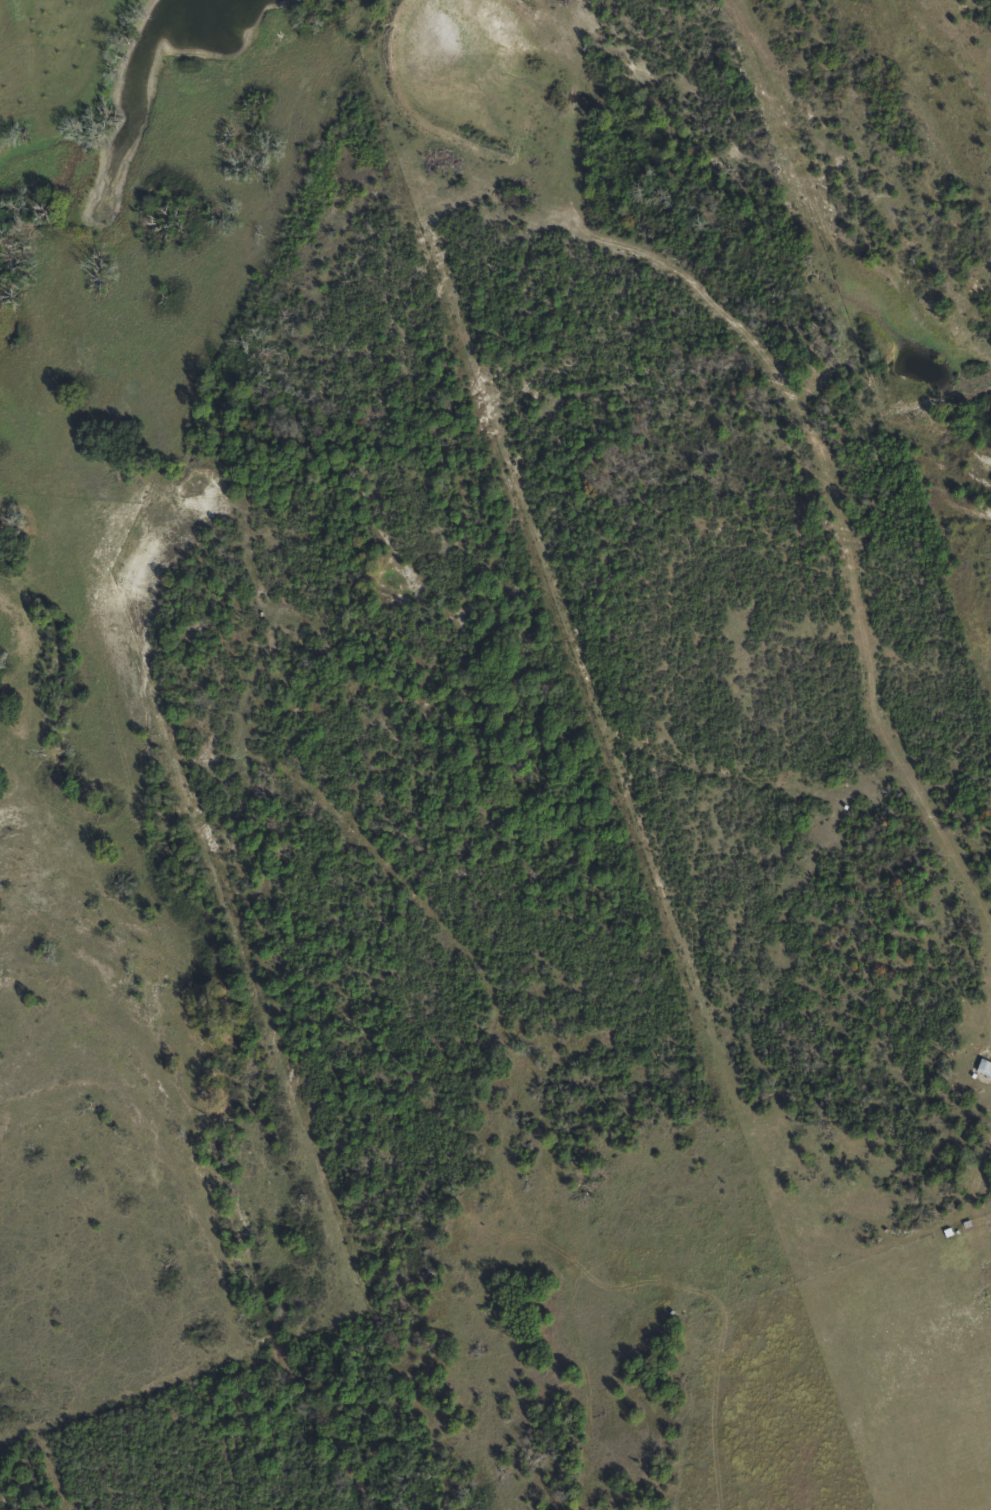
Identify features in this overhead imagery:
building: (983, 1067)

